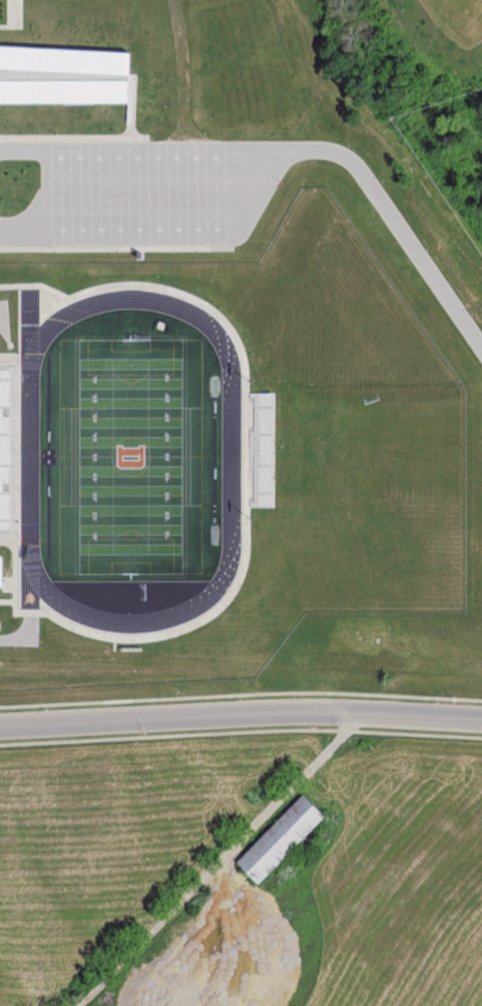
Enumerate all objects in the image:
building: (64, 74)
street lamp: (56, 134)
street lamp: (118, 134)
street lamp: (206, 134)
street lamp: (349, 145)
road: (277, 172)
street lamp: (383, 181)
street lamp: (282, 183)
parking lot: (138, 191)
road: (398, 227)
street lamp: (428, 249)
street lamp: (199, 251)
street lamp: (55, 252)
street lamp: (118, 252)
street lamp: (472, 315)
park: (130, 455)
track: (131, 460)
building: (1, 573)
road: (240, 715)
building: (281, 837)
road: (220, 862)

